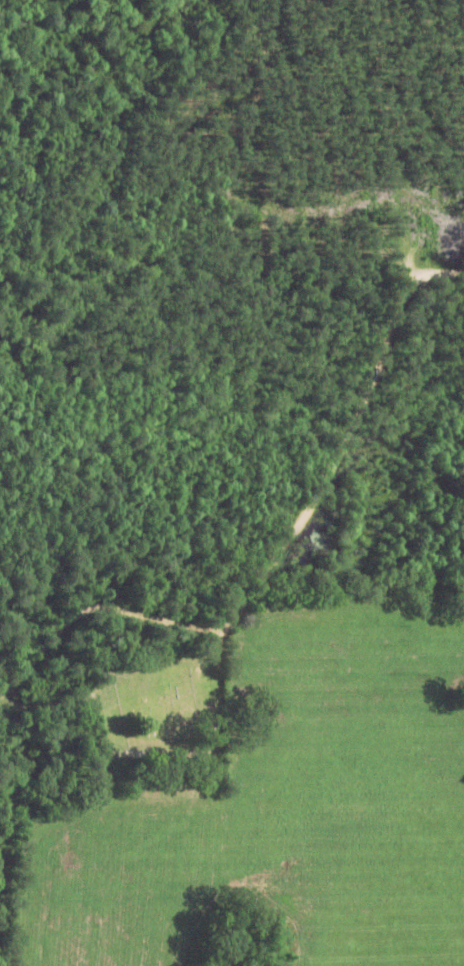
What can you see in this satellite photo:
road: (313, 476)

